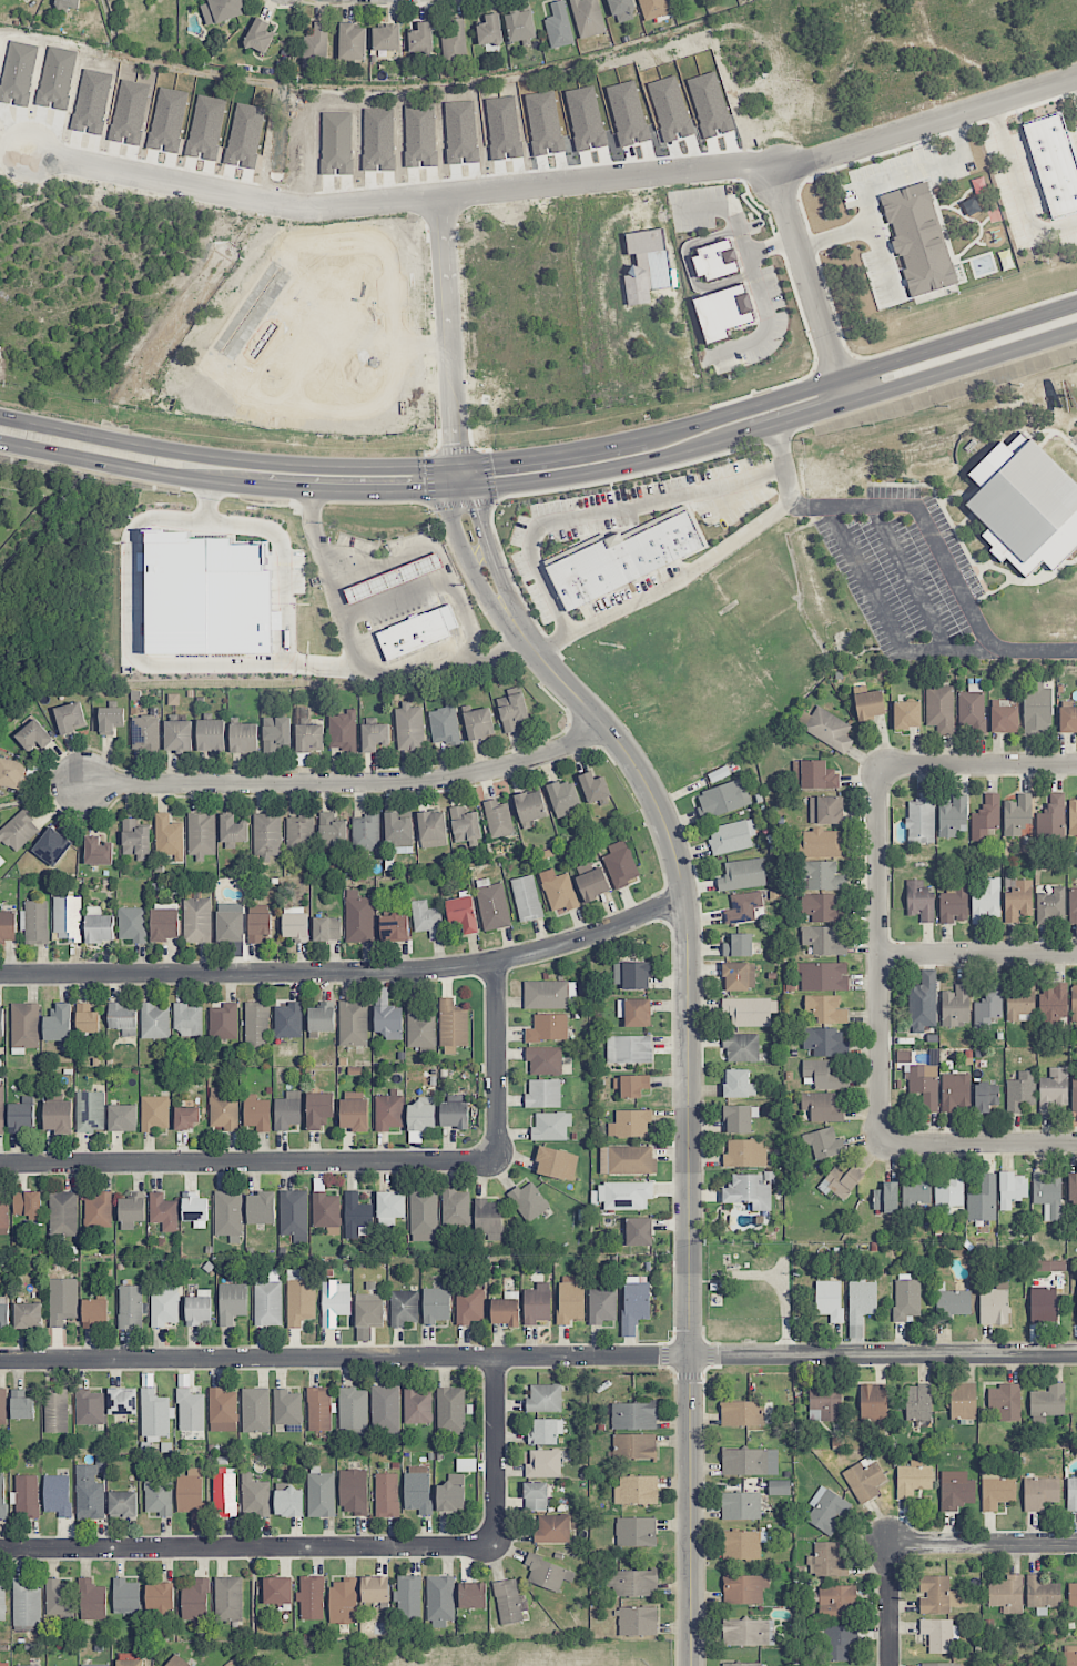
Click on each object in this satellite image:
building: (68, 4)
building: (653, 8)
building: (221, 10)
building: (622, 10)
building: (588, 18)
building: (520, 26)
building: (558, 26)
building: (489, 30)
building: (258, 35)
building: (386, 38)
building: (420, 38)
building: (352, 42)
building: (455, 43)
building: (316, 47)
road: (1074, 87)
road: (926, 123)
building: (1055, 162)
road: (877, 181)
road: (1019, 185)
building: (979, 186)
road: (402, 199)
road: (734, 211)
building: (918, 238)
road: (352, 241)
building: (715, 258)
road: (883, 261)
road: (283, 262)
road: (811, 286)
road: (771, 303)
building: (723, 311)
road: (248, 314)
road: (445, 331)
road: (420, 345)
road: (227, 378)
road: (769, 400)
road: (282, 403)
road: (373, 407)
road: (778, 425)
traffic signals: (453, 441)
road: (225, 458)
traffic signals: (494, 461)
road: (463, 477)
road: (233, 484)
traffic signals: (414, 491)
building: (1025, 505)
traffic signals: (477, 511)
road: (604, 511)
road: (485, 539)
road: (464, 550)
road: (943, 556)
building: (623, 558)
road: (291, 562)
road: (699, 563)
building: (393, 578)
gas station: (393, 578)
road: (911, 578)
road: (434, 581)
building: (210, 601)
road: (511, 605)
road: (887, 623)
building: (417, 633)
road: (134, 648)
road: (362, 661)
building: (870, 704)
building: (1037, 708)
building: (939, 709)
building: (972, 710)
building: (512, 712)
street lamp: (565, 714)
building: (906, 714)
building: (70, 718)
building: (110, 719)
building: (1004, 719)
building: (1067, 720)
building: (479, 723)
building: (444, 724)
building: (409, 727)
building: (826, 729)
building: (343, 730)
building: (145, 733)
building: (276, 733)
building: (33, 735)
building: (177, 735)
building: (211, 735)
building: (374, 737)
building: (243, 738)
building: (308, 738)
road: (977, 766)
building: (11, 773)
building: (815, 774)
road: (348, 783)
building: (593, 786)
building: (562, 798)
building: (723, 799)
building: (529, 805)
building: (825, 810)
building: (953, 815)
building: (1017, 815)
building: (1053, 816)
building: (985, 817)
building: (1073, 817)
building: (498, 819)
building: (921, 820)
building: (465, 826)
building: (431, 829)
building: (398, 830)
building: (19, 831)
building: (233, 831)
building: (299, 832)
building: (332, 832)
building: (365, 832)
building: (201, 834)
building: (266, 835)
building: (169, 836)
building: (731, 836)
building: (134, 837)
building: (824, 844)
building: (52, 846)
building: (98, 851)
building: (621, 865)
building: (742, 874)
building: (822, 876)
building: (592, 884)
building: (558, 891)
building: (526, 898)
building: (919, 901)
building: (1017, 901)
building: (986, 902)
building: (491, 904)
building: (953, 904)
building: (1073, 905)
building: (1051, 906)
building: (743, 907)
building: (822, 907)
building: (461, 913)
building: (358, 917)
building: (68, 918)
building: (426, 918)
building: (196, 921)
building: (37, 922)
building: (132, 924)
building: (164, 925)
building: (8, 926)
building: (230, 926)
building: (258, 926)
building: (296, 926)
street lamp: (662, 926)
building: (394, 927)
building: (100, 928)
building: (326, 928)
building: (824, 939)
building: (738, 945)
road: (976, 955)
road: (876, 956)
road: (348, 972)
building: (631, 975)
building: (738, 976)
building: (824, 976)
building: (548, 994)
building: (923, 1003)
building: (1019, 1003)
building: (1074, 1003)
building: (1053, 1004)
building: (956, 1006)
building: (988, 1006)
building: (825, 1009)
building: (634, 1012)
building: (748, 1012)
building: (386, 1015)
building: (123, 1017)
building: (321, 1018)
building: (87, 1019)
building: (187, 1019)
building: (154, 1020)
building: (287, 1020)
building: (223, 1022)
building: (58, 1023)
building: (352, 1023)
building: (256, 1024)
building: (24, 1025)
building: (1, 1026)
building: (451, 1026)
building: (548, 1028)
building: (420, 1030)
building: (825, 1042)
building: (741, 1048)
building: (629, 1049)
building: (903, 1056)
building: (545, 1060)
road: (497, 1063)
building: (823, 1076)
building: (738, 1084)
building: (631, 1085)
building: (925, 1085)
building: (1054, 1089)
building: (955, 1091)
building: (1020, 1091)
building: (1074, 1093)
building: (543, 1094)
building: (985, 1096)
building: (1, 1107)
building: (822, 1107)
building: (223, 1109)
building: (318, 1109)
building: (287, 1110)
building: (90, 1111)
building: (256, 1113)
building: (154, 1114)
building: (354, 1115)
building: (454, 1115)
building: (58, 1116)
building: (420, 1116)
building: (21, 1117)
building: (186, 1117)
road: (688, 1117)
building: (123, 1118)
building: (738, 1119)
building: (630, 1124)
building: (550, 1126)
building: (824, 1142)
road: (978, 1144)
building: (745, 1152)
building: (627, 1160)
road: (248, 1164)
building: (556, 1164)
building: (841, 1180)
building: (1071, 1187)
building: (916, 1189)
building: (1012, 1189)
building: (749, 1191)
building: (948, 1192)
building: (1047, 1193)
building: (624, 1195)
building: (886, 1198)
building: (983, 1200)
building: (528, 1201)
building: (27, 1203)
building: (194, 1208)
building: (261, 1208)
building: (389, 1208)
building: (455, 1208)
building: (132, 1210)
building: (98, 1211)
building: (423, 1211)
building: (163, 1212)
building: (228, 1212)
building: (326, 1212)
building: (62, 1213)
building: (294, 1215)
building: (357, 1216)
building: (3, 1217)
building: (487, 1219)
building: (639, 1231)
building: (1048, 1266)
building: (1076, 1282)
building: (861, 1298)
building: (906, 1299)
building: (62, 1300)
building: (570, 1300)
building: (829, 1300)
building: (268, 1301)
building: (301, 1301)
building: (232, 1302)
building: (334, 1302)
building: (953, 1302)
building: (537, 1303)
building: (164, 1304)
building: (435, 1304)
building: (602, 1304)
building: (634, 1304)
building: (994, 1304)
building: (1043, 1306)
building: (130, 1307)
building: (468, 1307)
building: (403, 1308)
building: (197, 1310)
building: (369, 1310)
building: (3, 1312)
building: (94, 1312)
building: (505, 1312)
building: (28, 1315)
building: (855, 1331)
road: (538, 1357)
street lamp: (670, 1373)
building: (545, 1398)
building: (122, 1401)
building: (963, 1401)
building: (918, 1402)
building: (825, 1403)
building: (873, 1403)
building: (1004, 1403)
building: (1047, 1403)
building: (21, 1405)
building: (2, 1406)
building: (90, 1406)
building: (417, 1406)
building: (287, 1409)
building: (318, 1409)
building: (353, 1409)
building: (385, 1409)
building: (55, 1410)
building: (191, 1410)
building: (222, 1410)
building: (255, 1410)
building: (450, 1410)
building: (155, 1413)
building: (741, 1413)
building: (633, 1415)
building: (546, 1431)
building: (634, 1446)
road: (495, 1453)
building: (749, 1462)
building: (100, 1463)
building: (543, 1463)
building: (466, 1464)
building: (864, 1479)
building: (913, 1479)
building: (779, 1487)
building: (417, 1489)
building: (955, 1490)
building: (996, 1490)
building: (354, 1491)
building: (637, 1491)
building: (451, 1493)
building: (1040, 1493)
building: (321, 1494)
building: (386, 1494)
building: (1071, 1494)
building: (2, 1495)
building: (27, 1495)
building: (58, 1495)
building: (191, 1496)
building: (254, 1496)
building: (535, 1496)
building: (89, 1497)
building: (159, 1497)
building: (288, 1501)
building: (122, 1504)
building: (741, 1505)
building: (826, 1510)
building: (555, 1528)
building: (636, 1532)
road: (983, 1541)
building: (742, 1544)
road: (247, 1550)
building: (826, 1561)
building: (548, 1573)
building: (632, 1583)
building: (744, 1588)
building: (375, 1589)
building: (277, 1591)
building: (1007, 1594)
building: (1042, 1594)
building: (1073, 1594)
building: (473, 1595)
building: (937, 1595)
building: (126, 1596)
building: (160, 1596)
building: (311, 1597)
building: (407, 1597)
building: (228, 1598)
building: (60, 1599)
building: (92, 1599)
building: (343, 1601)
building: (440, 1601)
building: (2, 1602)
building: (508, 1602)
building: (836, 1602)
building: (26, 1603)
building: (195, 1603)
road: (890, 1604)
building: (637, 1621)
building: (748, 1633)
building: (937, 1634)
building: (839, 1642)
building: (1071, 1656)
building: (176, 1662)
building: (130, 1663)
building: (1035, 1663)
building: (3, 1664)
building: (742, 1664)
building: (941, 1664)
building: (30, 1665)
building: (95, 1665)

